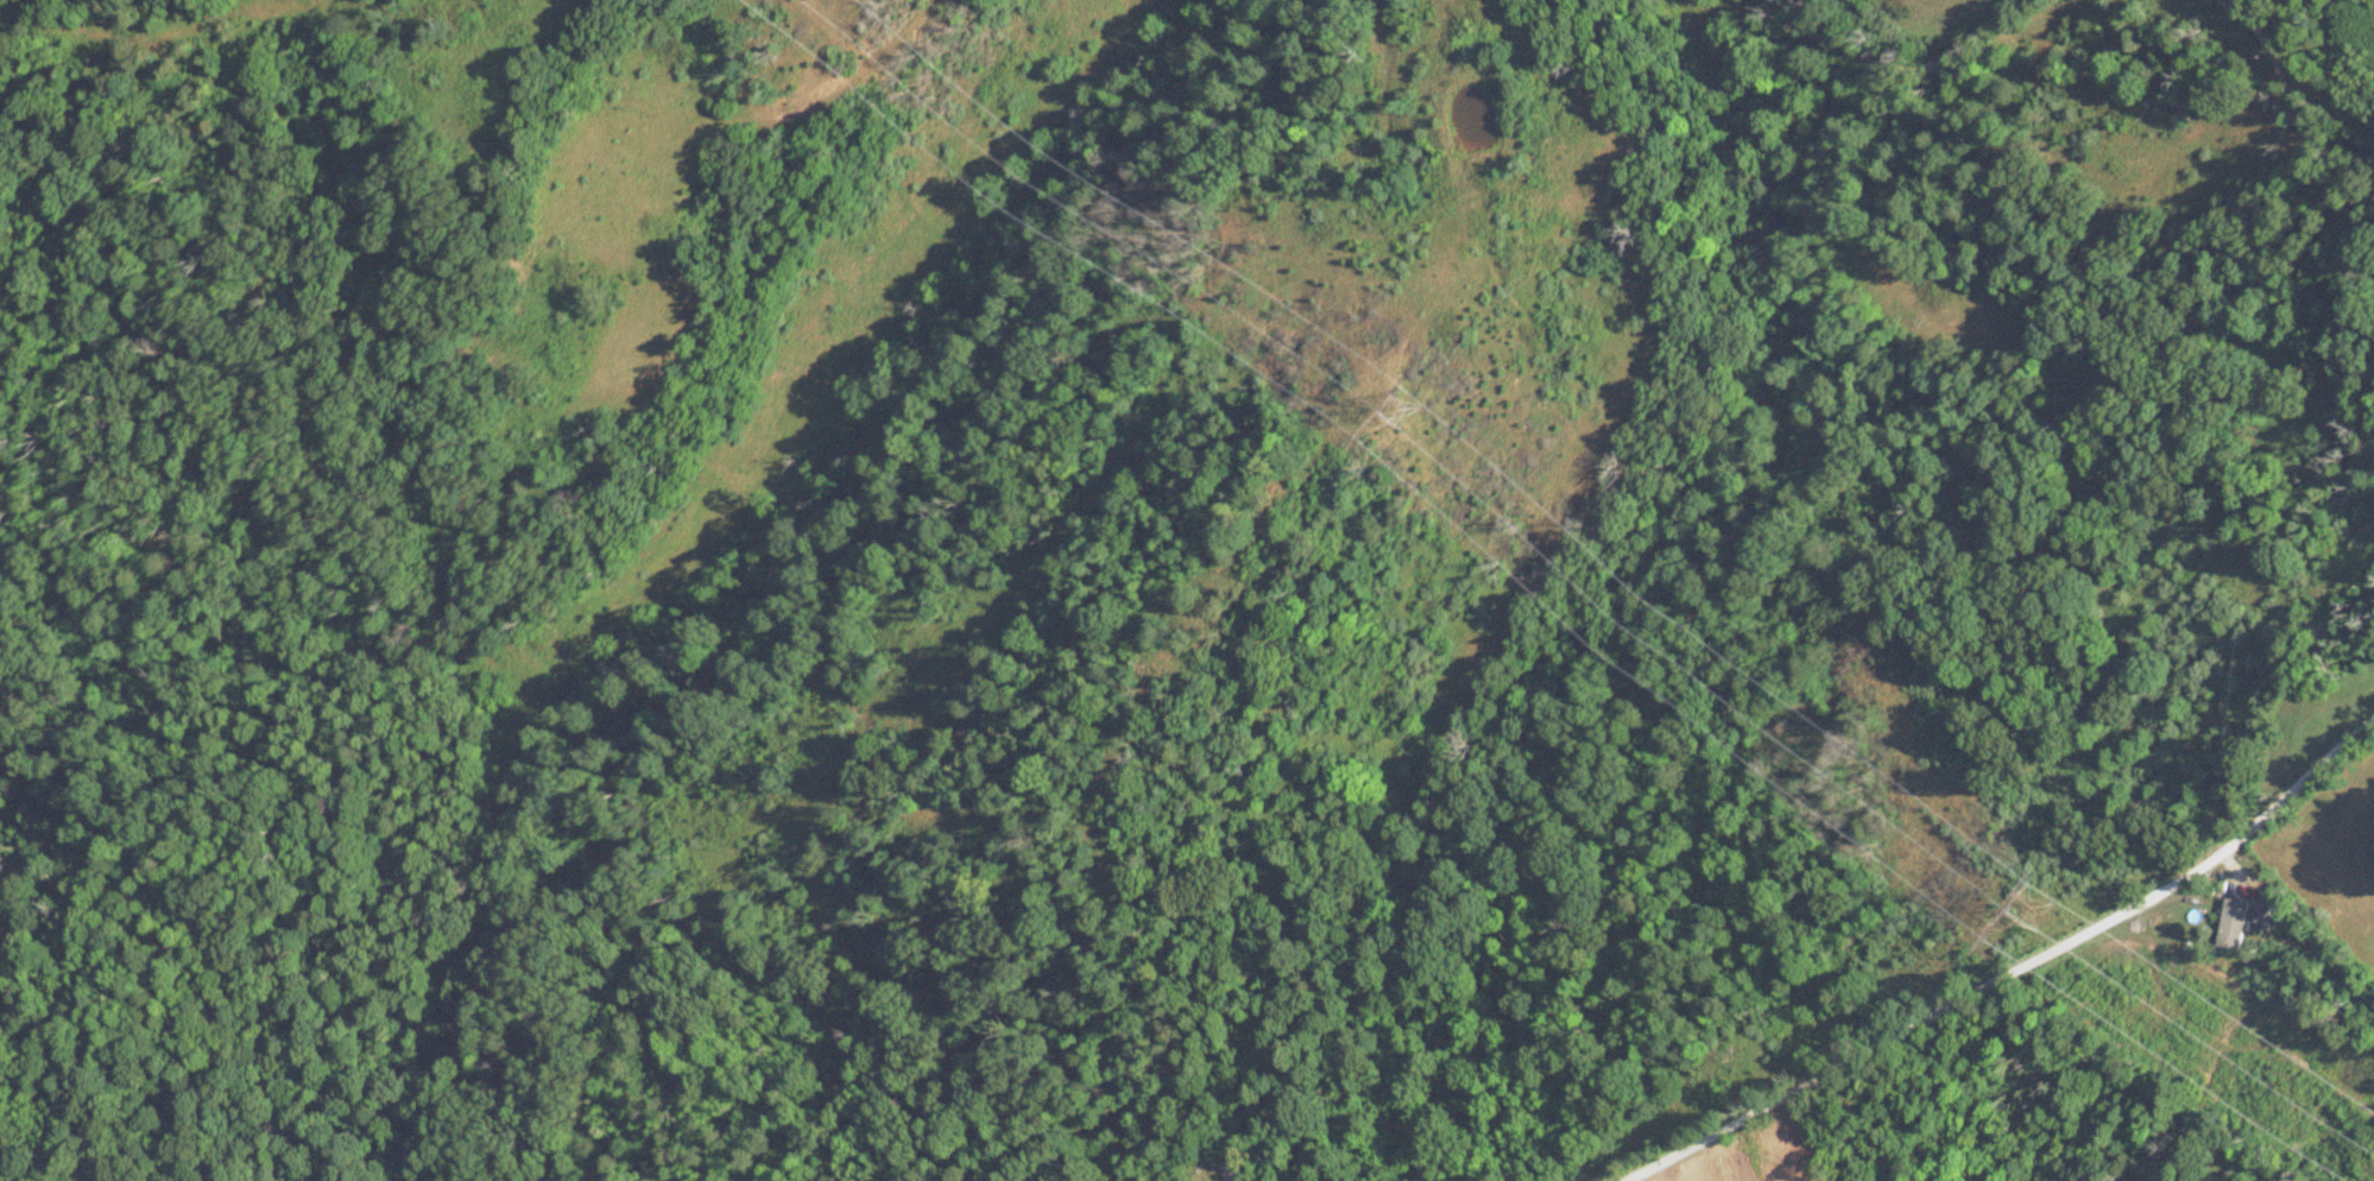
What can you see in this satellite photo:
road: (1914, 68)
road: (2298, 112)
power tower: (1389, 412)
road: (2233, 832)
power tower: (2032, 907)
road: (1849, 1056)

